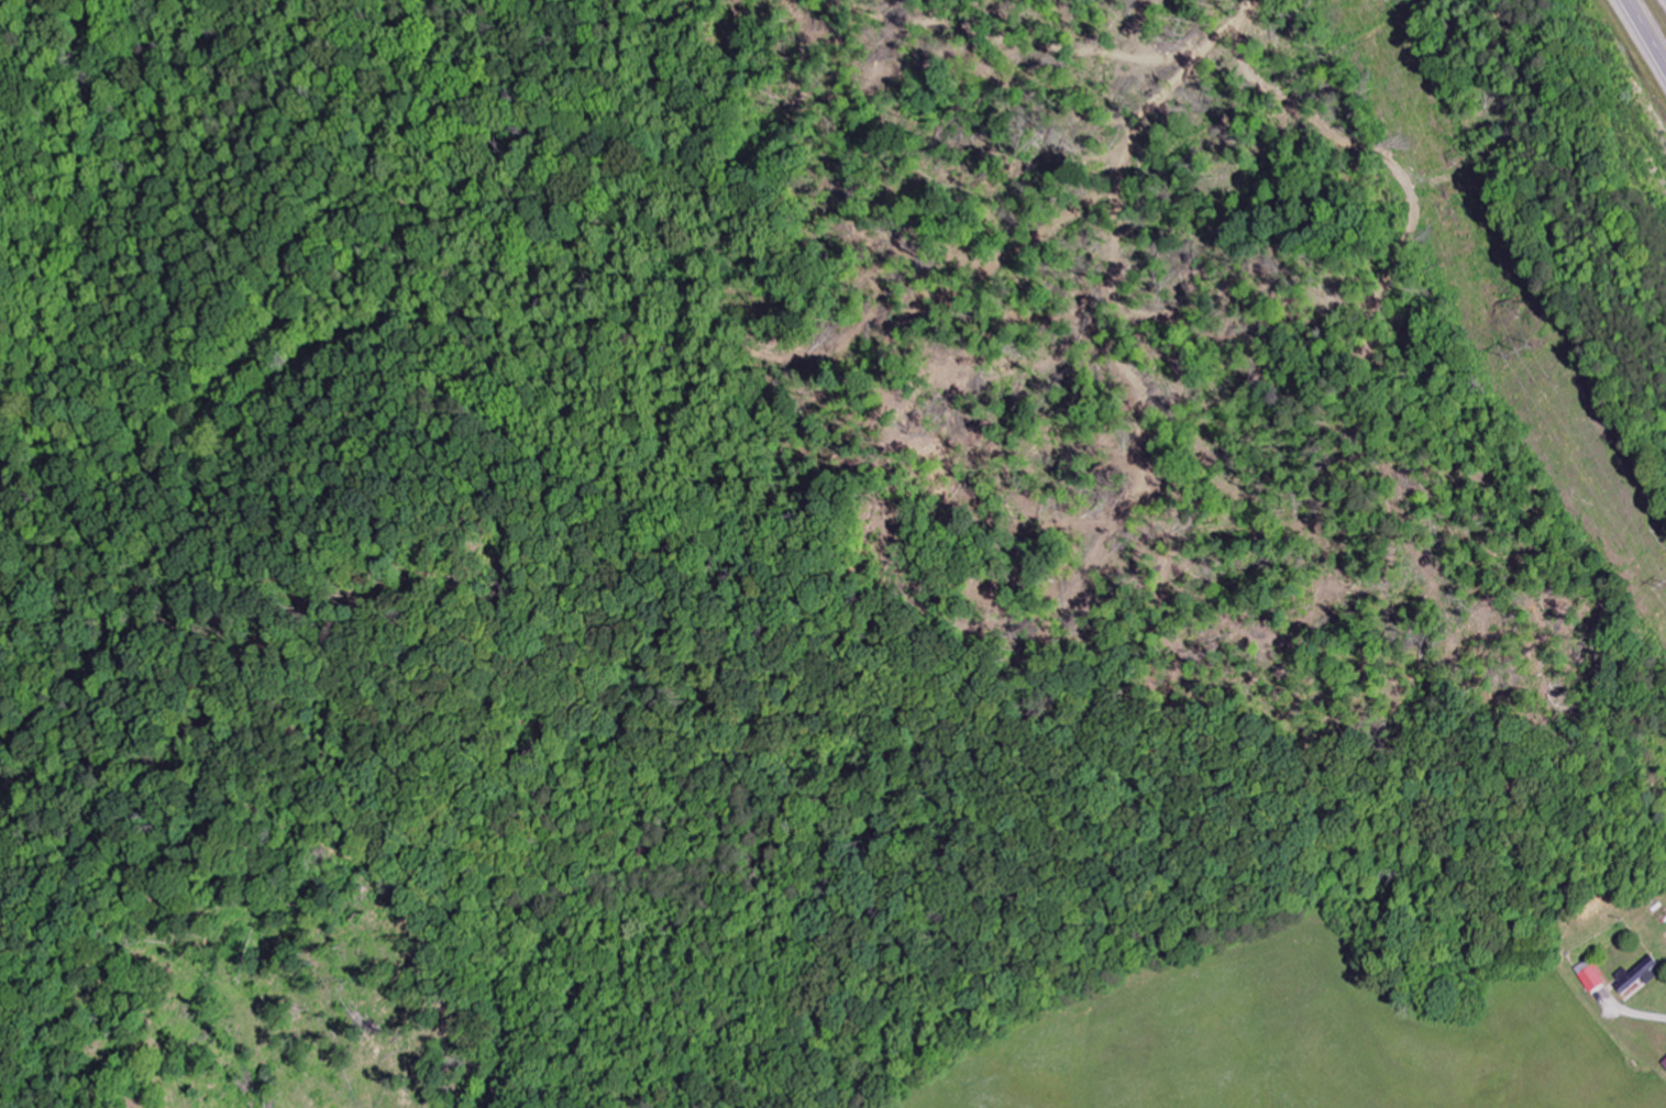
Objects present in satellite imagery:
road: (1646, 34)
building: (1636, 977)
building: (1591, 979)
building: (1664, 1064)

